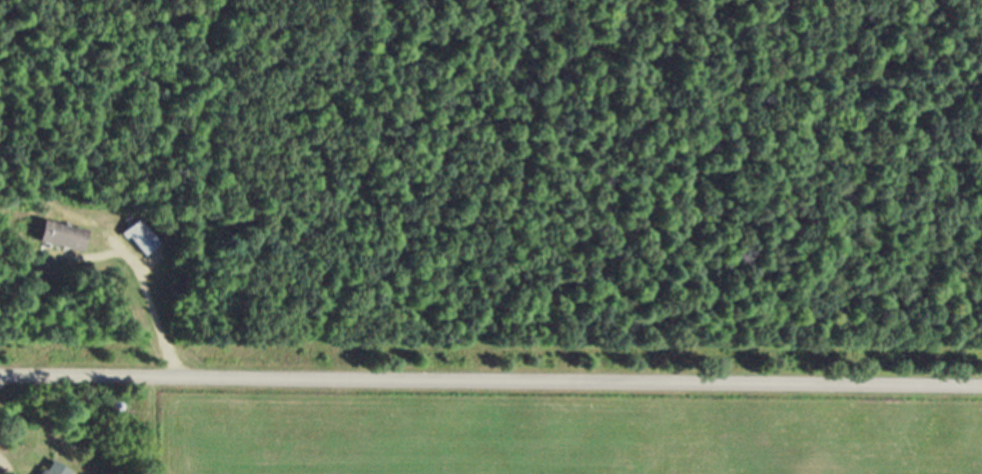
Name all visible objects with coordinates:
building: (62, 243)
building: (141, 244)
road: (491, 380)
building: (54, 471)

